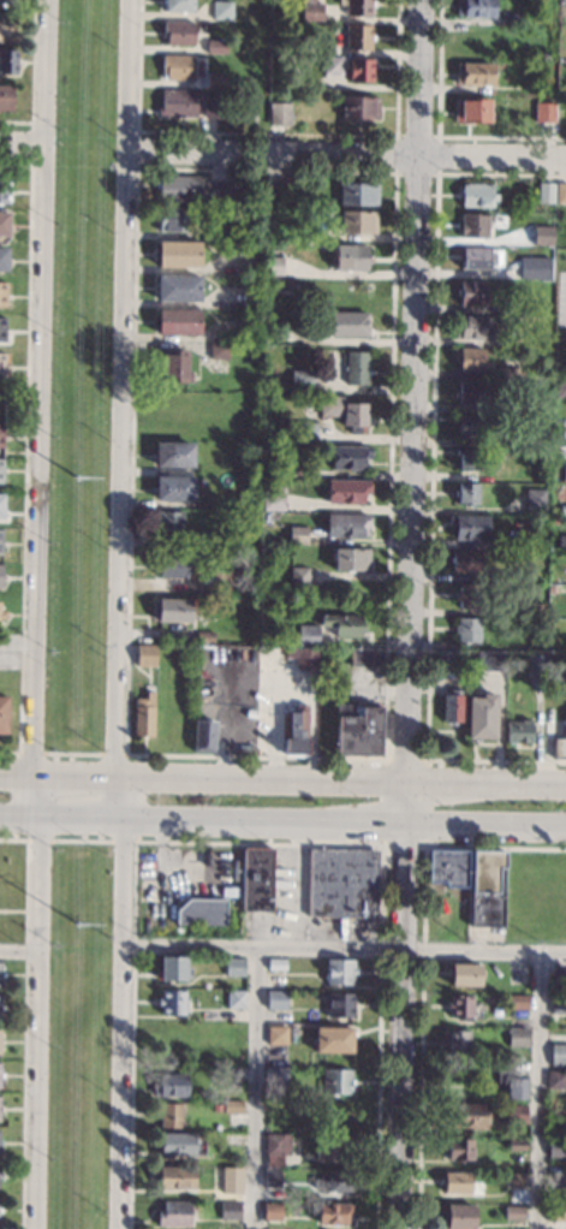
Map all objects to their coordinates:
building: (7, 2)
building: (178, 6)
building: (358, 6)
building: (476, 8)
building: (221, 10)
building: (311, 10)
building: (517, 19)
building: (5, 26)
building: (179, 31)
building: (357, 36)
building: (216, 46)
building: (8, 61)
building: (333, 65)
building: (178, 66)
building: (361, 70)
building: (473, 73)
building: (215, 79)
building: (6, 97)
building: (178, 103)
building: (214, 106)
building: (359, 107)
building: (471, 111)
building: (544, 112)
building: (280, 114)
road: (22, 148)
road: (348, 152)
building: (193, 189)
building: (4, 190)
building: (544, 192)
building: (560, 192)
building: (357, 194)
building: (477, 195)
building: (173, 219)
building: (357, 221)
building: (4, 222)
building: (475, 226)
building: (218, 230)
building: (312, 231)
building: (542, 236)
building: (179, 254)
building: (351, 256)
building: (4, 259)
building: (475, 259)
building: (274, 266)
building: (530, 268)
building: (178, 287)
building: (471, 292)
building: (2, 293)
building: (512, 305)
building: (178, 322)
building: (348, 323)
building: (471, 328)
building: (2, 329)
building: (285, 331)
building: (540, 338)
building: (218, 350)
building: (470, 360)
building: (2, 363)
building: (175, 366)
building: (560, 366)
building: (357, 367)
building: (508, 373)
building: (300, 381)
building: (560, 387)
building: (281, 391)
building: (471, 392)
building: (2, 400)
building: (177, 411)
building: (342, 411)
building: (471, 427)
building: (1, 435)
building: (558, 438)
building: (538, 444)
building: (173, 455)
building: (348, 457)
building: (467, 458)
building: (272, 463)
building: (1, 469)
building: (564, 471)
power tower: (82, 487)
building: (173, 488)
building: (346, 491)
building: (466, 493)
building: (273, 499)
building: (535, 499)
building: (1, 505)
building: (562, 510)
building: (166, 519)
building: (346, 524)
building: (467, 527)
building: (297, 535)
building: (531, 539)
building: (561, 541)
building: (1, 542)
building: (350, 558)
building: (465, 560)
building: (173, 566)
building: (0, 576)
building: (298, 578)
building: (207, 582)
building: (469, 595)
building: (174, 610)
building: (534, 610)
road: (37, 613)
road: (121, 613)
road: (407, 613)
building: (2, 614)
building: (342, 625)
building: (466, 629)
building: (306, 635)
building: (204, 636)
road: (18, 642)
building: (145, 654)
building: (365, 657)
building: (448, 659)
building: (306, 660)
building: (489, 660)
building: (534, 664)
building: (452, 702)
building: (2, 714)
building: (143, 714)
building: (481, 717)
building: (297, 730)
building: (356, 731)
building: (518, 731)
building: (203, 735)
building: (560, 744)
road: (282, 783)
road: (282, 821)
building: (448, 868)
building: (257, 880)
building: (342, 884)
building: (487, 889)
building: (202, 913)
power tower: (82, 932)
road: (341, 949)
road: (16, 950)
building: (276, 966)
building: (234, 968)
building: (173, 969)
building: (340, 973)
building: (0, 974)
building: (464, 976)
building: (236, 999)
building: (276, 1001)
building: (172, 1003)
building: (517, 1003)
building: (0, 1004)
building: (340, 1005)
building: (558, 1005)
building: (460, 1008)
building: (216, 1035)
building: (276, 1035)
building: (292, 1035)
building: (0, 1038)
building: (518, 1038)
building: (333, 1040)
building: (455, 1043)
building: (558, 1055)
building: (232, 1059)
building: (0, 1073)
building: (275, 1076)
building: (555, 1080)
building: (336, 1082)
building: (512, 1086)
building: (171, 1087)
road: (252, 1088)
road: (540, 1091)
building: (232, 1108)
building: (216, 1109)
building: (274, 1109)
building: (465, 1115)
building: (516, 1115)
building: (169, 1116)
building: (338, 1117)
building: (216, 1128)
building: (179, 1145)
building: (278, 1145)
building: (517, 1146)
building: (332, 1148)
building: (458, 1150)
building: (556, 1150)
building: (0, 1176)
building: (174, 1177)
building: (272, 1178)
building: (231, 1181)
building: (513, 1181)
building: (333, 1182)
building: (455, 1183)
building: (556, 1183)
building: (230, 1211)
building: (272, 1211)
building: (330, 1213)
building: (173, 1215)
building: (513, 1215)
building: (556, 1215)
building: (458, 1217)

